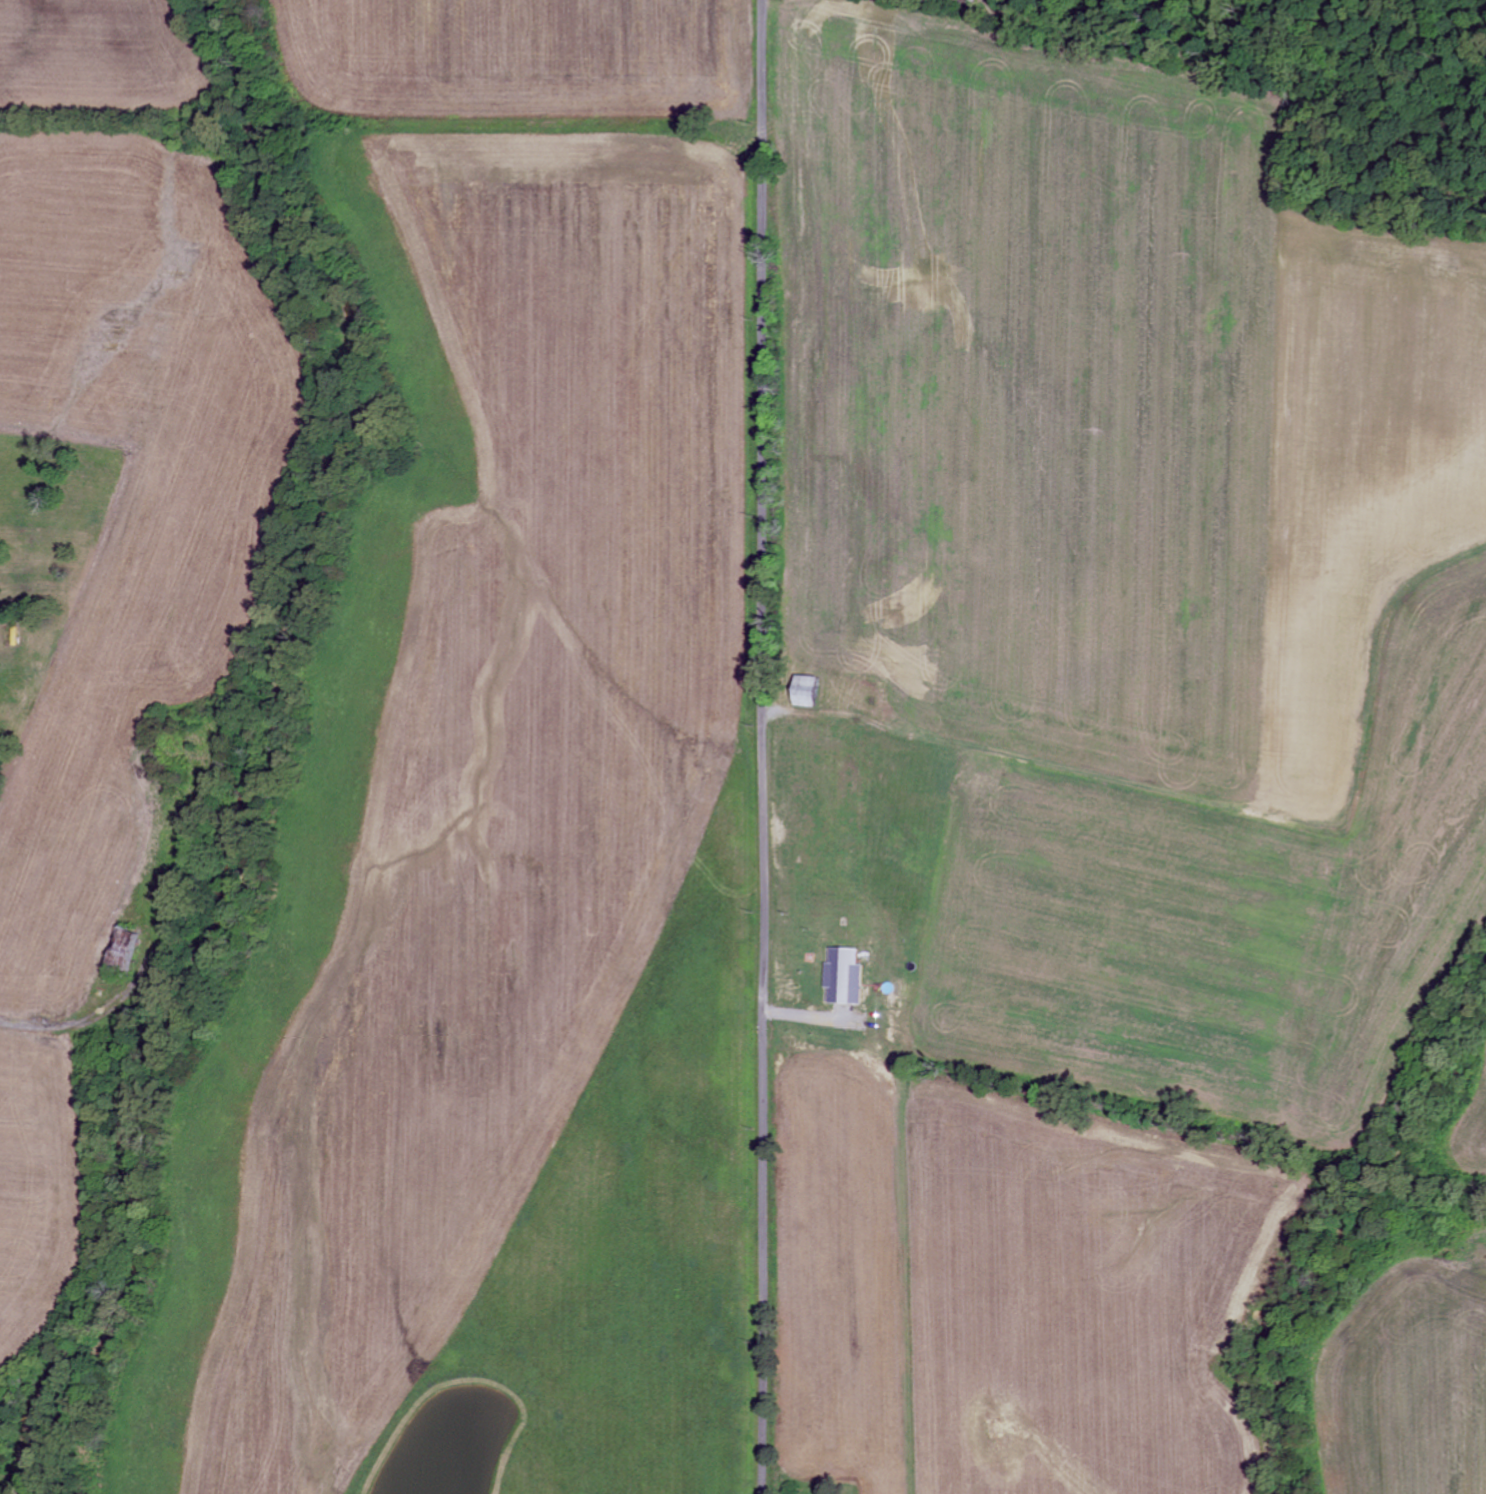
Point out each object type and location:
building: (805, 691)
road: (763, 747)
building: (123, 950)
building: (844, 977)

